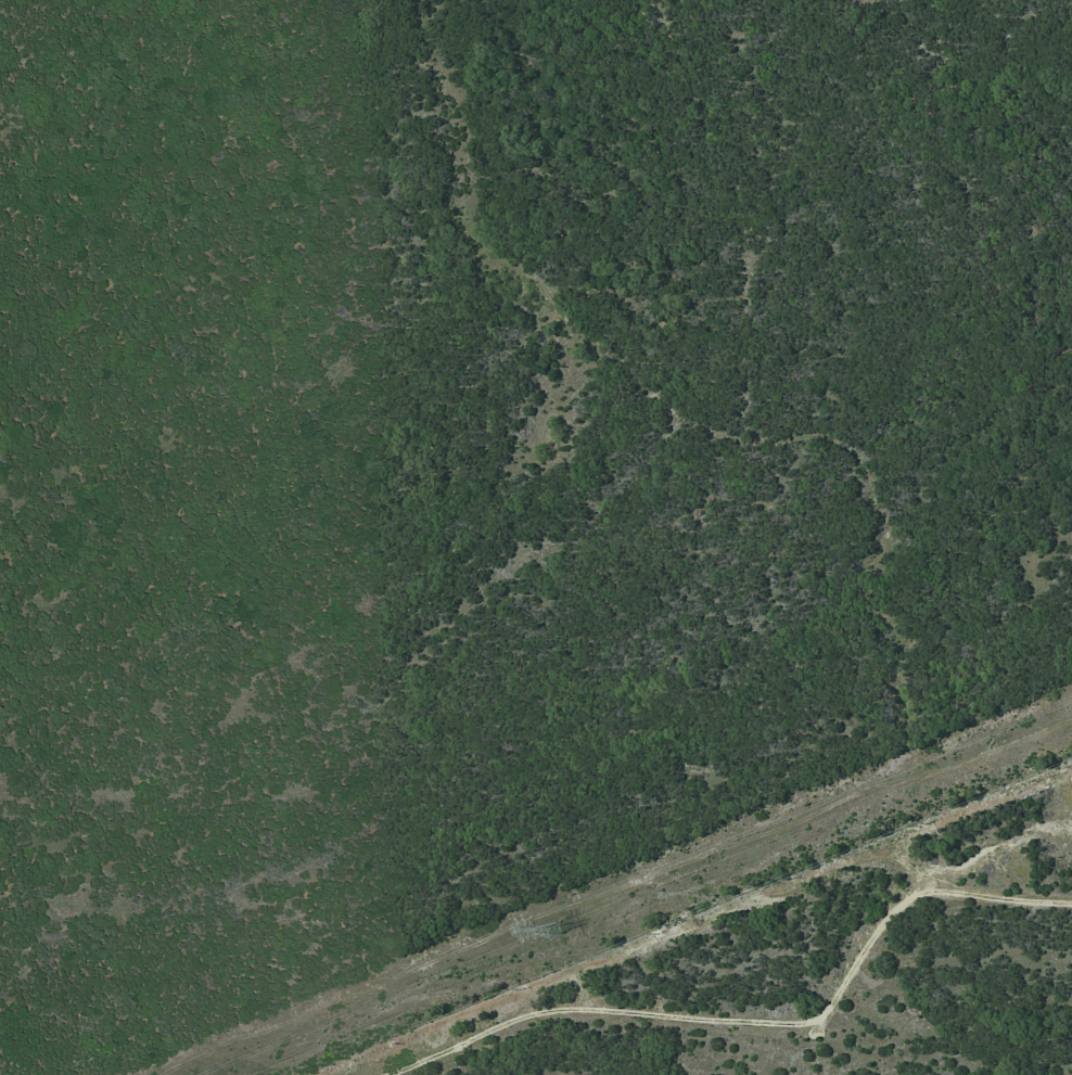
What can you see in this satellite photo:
power tower: (550, 930)

